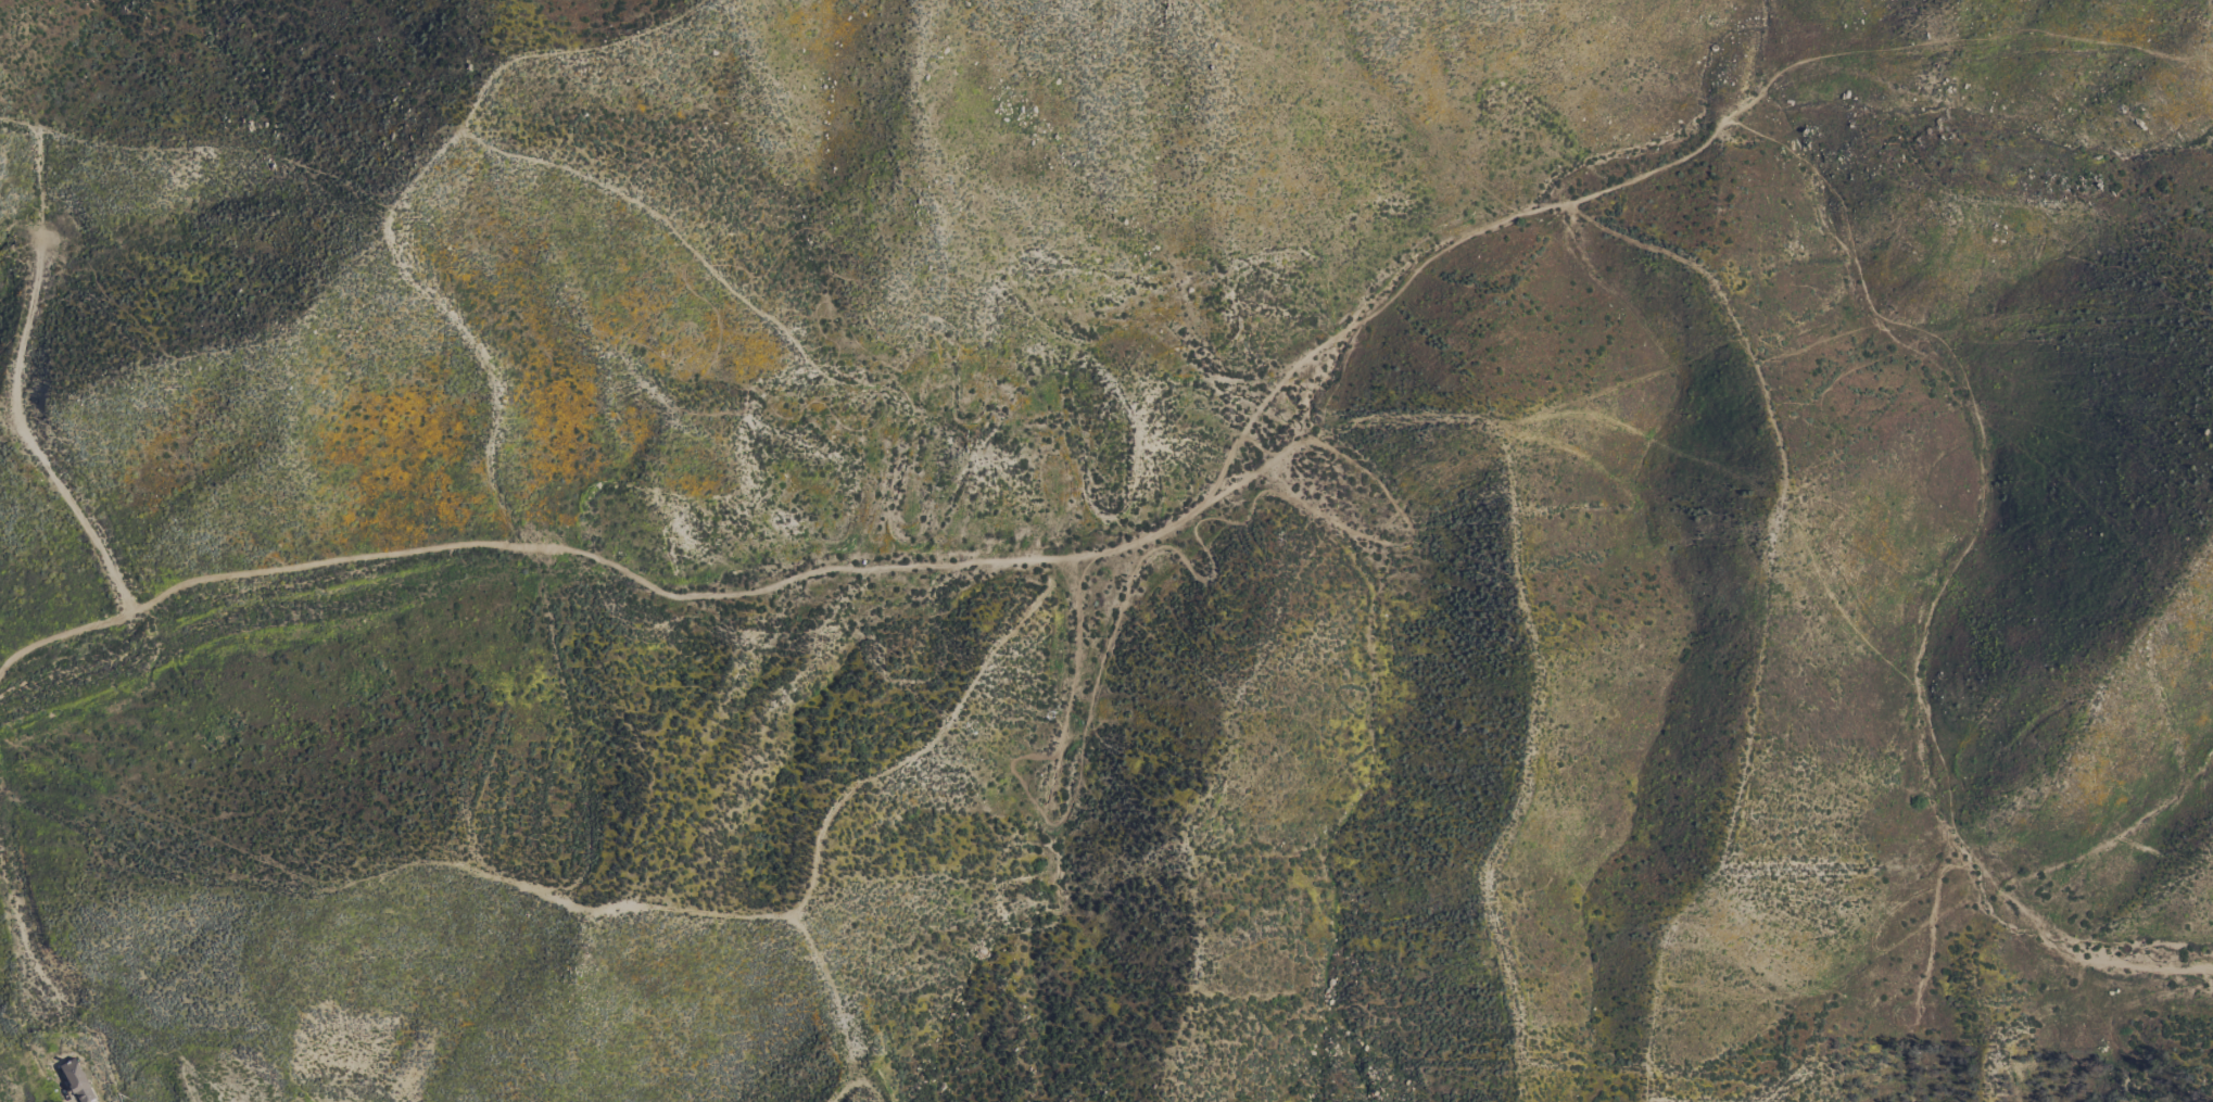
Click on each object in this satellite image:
building: (77, 1081)

